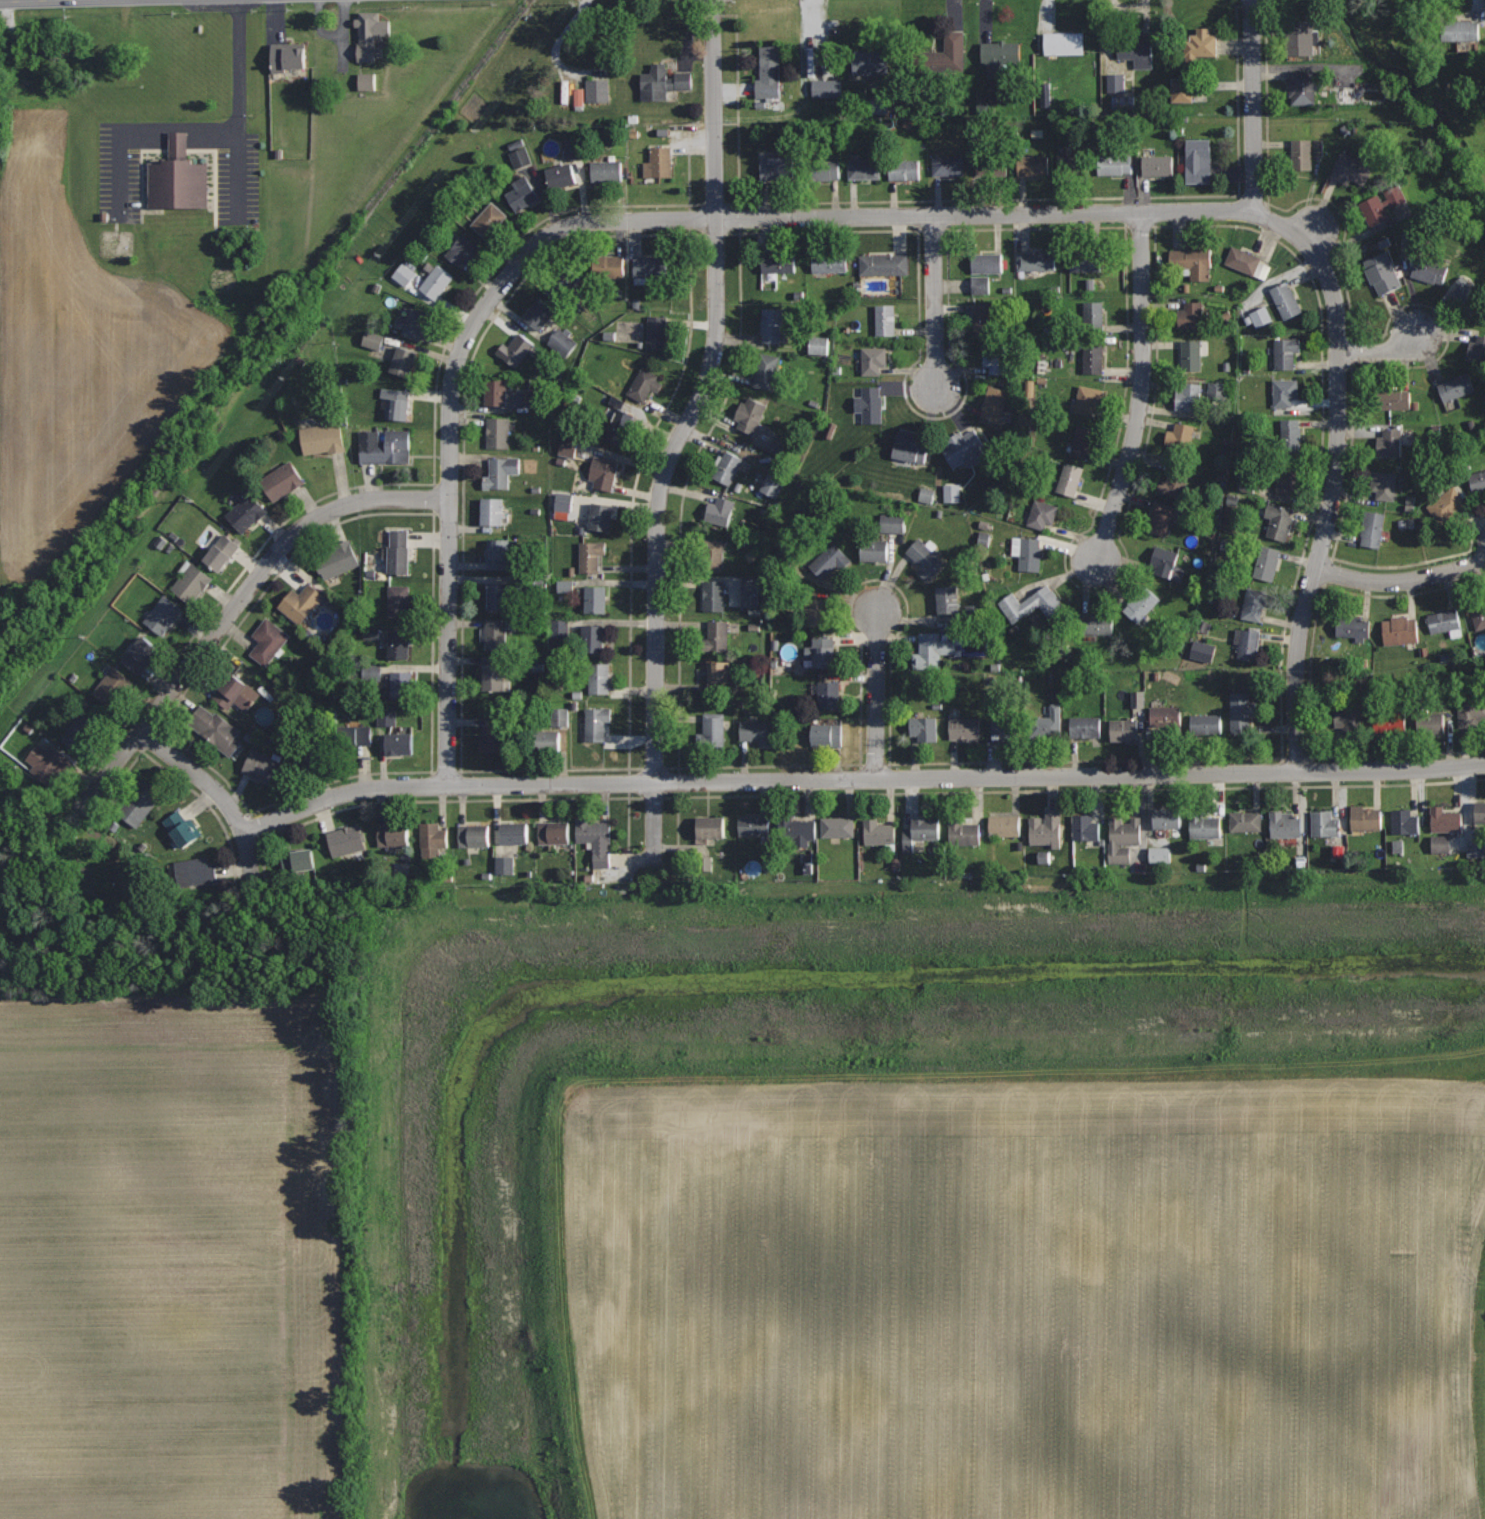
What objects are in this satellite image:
road: (38, 0)
building: (1462, 30)
building: (371, 34)
building: (1301, 38)
building: (1063, 42)
building: (1200, 44)
building: (1135, 49)
building: (947, 54)
building: (288, 55)
building: (998, 56)
building: (871, 61)
building: (769, 72)
building: (370, 82)
building: (662, 82)
building: (1119, 83)
building: (1304, 85)
building: (1189, 88)
building: (829, 89)
building: (601, 91)
building: (1349, 96)
building: (582, 97)
building: (1127, 103)
road: (1253, 106)
road: (239, 110)
road: (142, 127)
building: (1321, 148)
building: (576, 149)
building: (1301, 153)
building: (523, 159)
building: (1198, 160)
building: (658, 162)
building: (1070, 163)
building: (1116, 163)
building: (948, 164)
building: (1157, 164)
building: (990, 165)
building: (1032, 165)
building: (777, 166)
building: (864, 168)
building: (822, 169)
building: (904, 169)
building: (1349, 169)
building: (606, 170)
building: (560, 175)
building: (177, 176)
building: (521, 192)
building: (1374, 210)
building: (488, 219)
road: (608, 221)
building: (1414, 244)
building: (462, 248)
building: (1084, 258)
building: (1036, 259)
building: (1192, 260)
building: (779, 261)
building: (1245, 261)
building: (828, 262)
building: (883, 263)
building: (983, 263)
building: (608, 266)
building: (1429, 267)
building: (648, 268)
building: (1382, 272)
building: (407, 275)
building: (565, 278)
building: (436, 281)
building: (983, 286)
building: (1467, 294)
building: (1285, 299)
road: (934, 303)
building: (539, 312)
building: (1093, 313)
building: (1190, 315)
building: (983, 317)
building: (1264, 318)
building: (885, 319)
building: (415, 322)
building: (771, 323)
building: (657, 331)
building: (376, 341)
building: (565, 343)
railway: (265, 345)
building: (822, 346)
building: (1477, 349)
building: (515, 350)
building: (1285, 351)
road: (1381, 351)
building: (1092, 353)
building: (1192, 353)
building: (996, 358)
building: (873, 359)
building: (404, 360)
building: (765, 370)
building: (644, 383)
building: (1456, 386)
building: (496, 390)
road: (1140, 390)
building: (1284, 391)
building: (1220, 392)
building: (1189, 395)
building: (1392, 396)
building: (1088, 398)
building: (534, 399)
building: (395, 402)
building: (870, 403)
building: (993, 403)
building: (750, 415)
building: (622, 423)
building: (612, 425)
building: (497, 431)
road: (682, 432)
building: (1290, 435)
building: (1180, 436)
building: (322, 437)
building: (1084, 440)
building: (1389, 443)
building: (910, 445)
building: (384, 446)
building: (964, 447)
building: (570, 448)
building: (725, 466)
building: (500, 471)
building: (603, 472)
road: (1334, 474)
building: (1069, 478)
building: (1285, 478)
building: (282, 480)
building: (1174, 481)
building: (1478, 481)
building: (1382, 483)
building: (776, 484)
building: (955, 494)
building: (929, 496)
building: (566, 503)
building: (1448, 505)
building: (245, 511)
building: (492, 511)
building: (719, 511)
building: (1041, 513)
building: (600, 516)
building: (1160, 518)
building: (1278, 519)
building: (896, 524)
building: (1372, 529)
building: (987, 541)
building: (874, 549)
building: (398, 551)
building: (1027, 551)
building: (221, 552)
building: (713, 552)
building: (498, 553)
building: (590, 555)
building: (337, 558)
building: (925, 558)
building: (829, 560)
building: (1164, 560)
building: (1267, 561)
road: (1400, 581)
building: (192, 583)
building: (568, 587)
building: (753, 593)
building: (712, 594)
building: (498, 595)
building: (595, 598)
building: (947, 599)
building: (398, 600)
building: (300, 602)
building: (1033, 603)
building: (1140, 603)
building: (1253, 603)
road: (234, 607)
building: (815, 611)
building: (163, 614)
building: (1478, 616)
building: (1444, 621)
building: (1096, 622)
building: (1353, 627)
building: (1400, 629)
building: (562, 630)
building: (495, 633)
building: (716, 636)
building: (592, 638)
building: (268, 640)
building: (399, 644)
building: (1248, 644)
building: (931, 650)
building: (821, 651)
building: (1208, 653)
building: (140, 654)
building: (495, 673)
building: (719, 675)
building: (599, 678)
building: (404, 683)
building: (114, 687)
building: (235, 692)
building: (829, 694)
road: (877, 694)
building: (1141, 700)
building: (1240, 711)
building: (1470, 711)
building: (1167, 717)
building: (564, 718)
building: (1352, 720)
building: (596, 721)
building: (1388, 721)
building: (1047, 723)
building: (1205, 723)
building: (1429, 723)
building: (1084, 726)
building: (964, 727)
building: (1005, 727)
building: (923, 728)
building: (1123, 728)
building: (215, 729)
building: (758, 731)
building: (80, 732)
building: (711, 732)
building: (351, 734)
building: (826, 734)
building: (494, 735)
building: (398, 742)
building: (548, 742)
road: (166, 752)
building: (309, 755)
building: (51, 764)
building: (262, 766)
road: (861, 780)
road: (222, 797)
building: (138, 801)
building: (1480, 811)
building: (1166, 816)
building: (1364, 817)
building: (1445, 819)
building: (1245, 820)
building: (1403, 821)
building: (1326, 823)
building: (753, 824)
building: (1004, 824)
building: (1284, 824)
building: (1203, 825)
building: (710, 826)
building: (837, 826)
building: (1084, 827)
building: (182, 828)
building: (1047, 828)
building: (796, 829)
building: (553, 831)
building: (920, 831)
building: (962, 831)
building: (513, 832)
building: (878, 832)
building: (393, 834)
building: (473, 835)
building: (1122, 838)
building: (432, 839)
building: (595, 839)
building: (346, 840)
building: (1444, 845)
building: (1402, 848)
building: (1477, 851)
building: (1164, 856)
building: (1047, 858)
building: (298, 859)
road: (249, 861)
building: (507, 867)
building: (194, 871)

